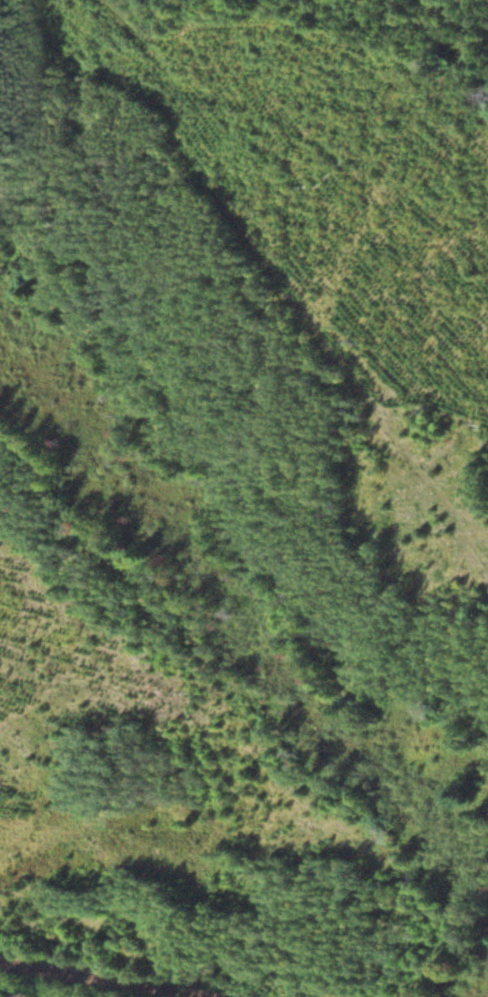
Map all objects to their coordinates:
road: (103, 972)

